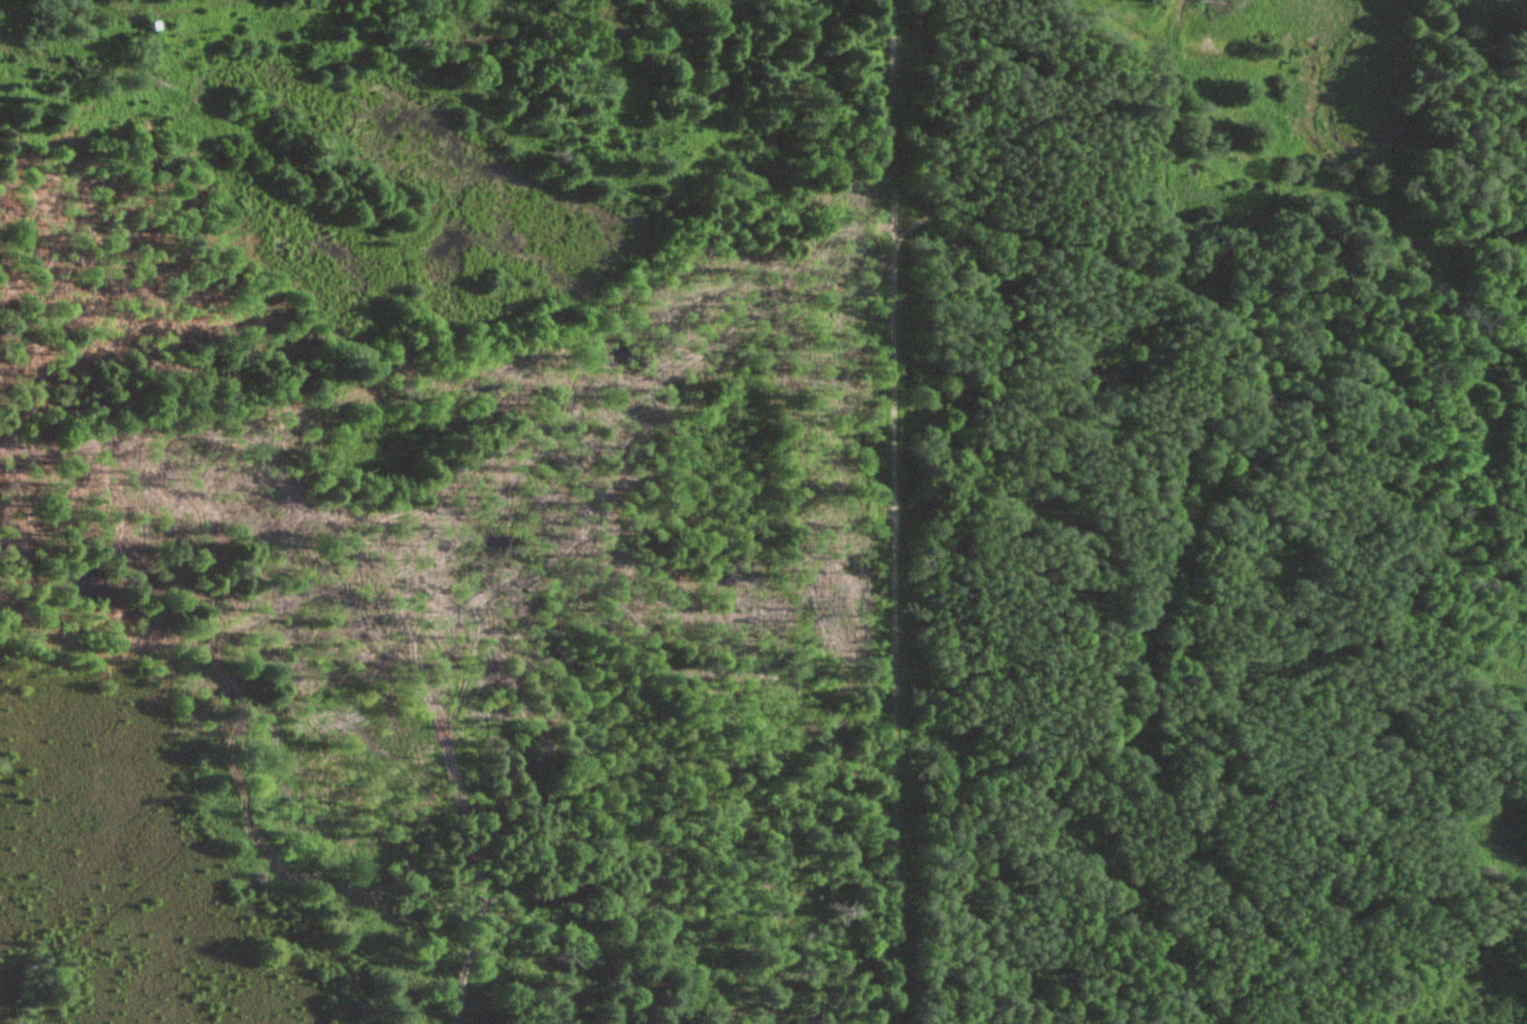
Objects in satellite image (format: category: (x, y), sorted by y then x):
road: (898, 511)

